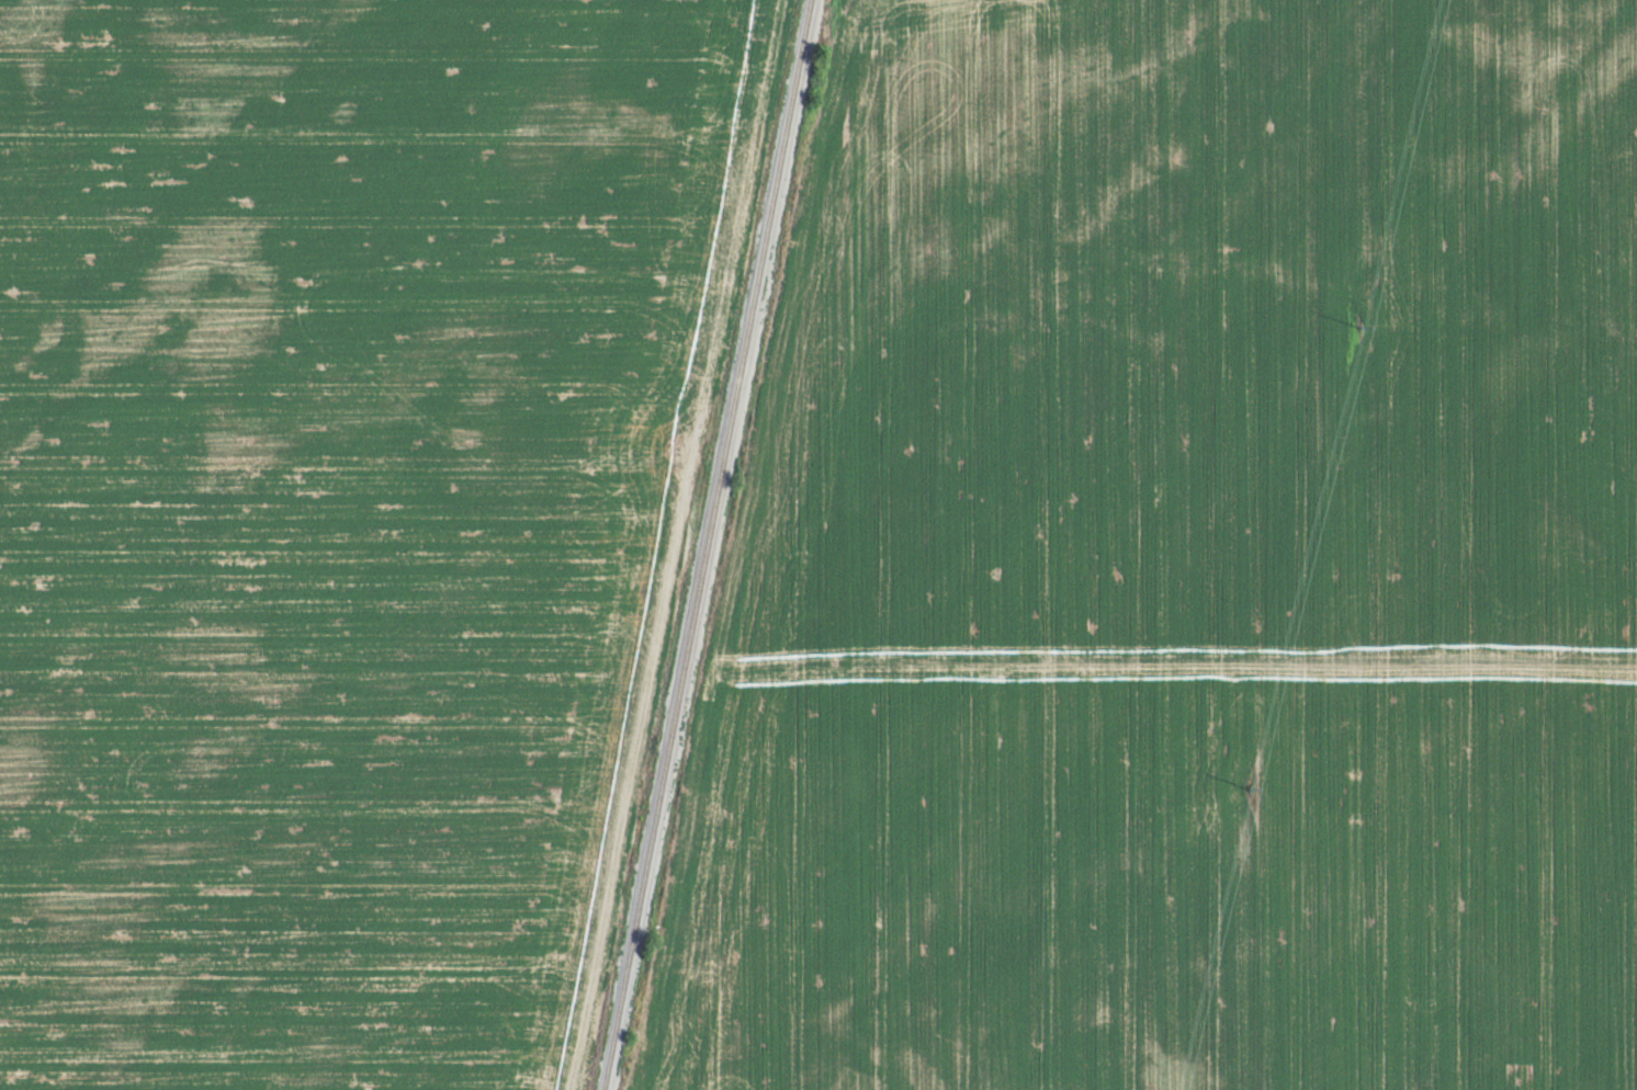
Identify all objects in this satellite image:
railway: (707, 545)

